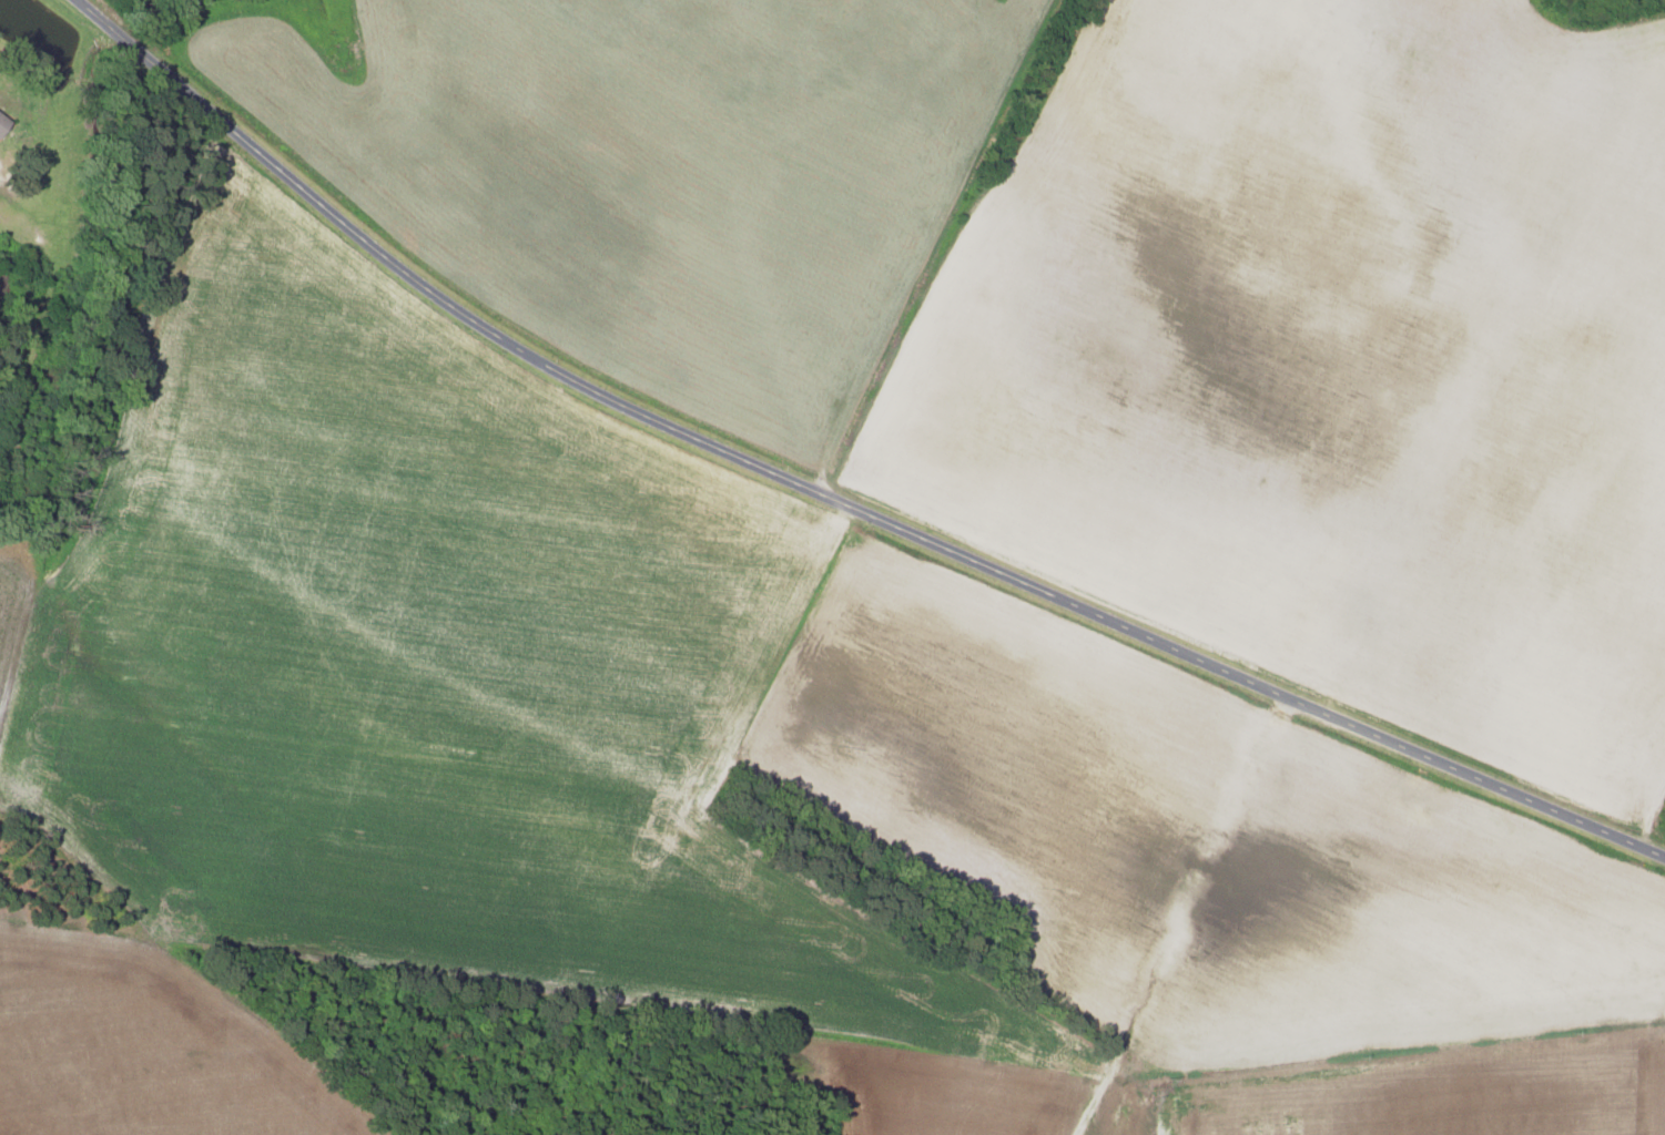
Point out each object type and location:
building: (1, 122)
road: (830, 498)
road: (1177, 916)

